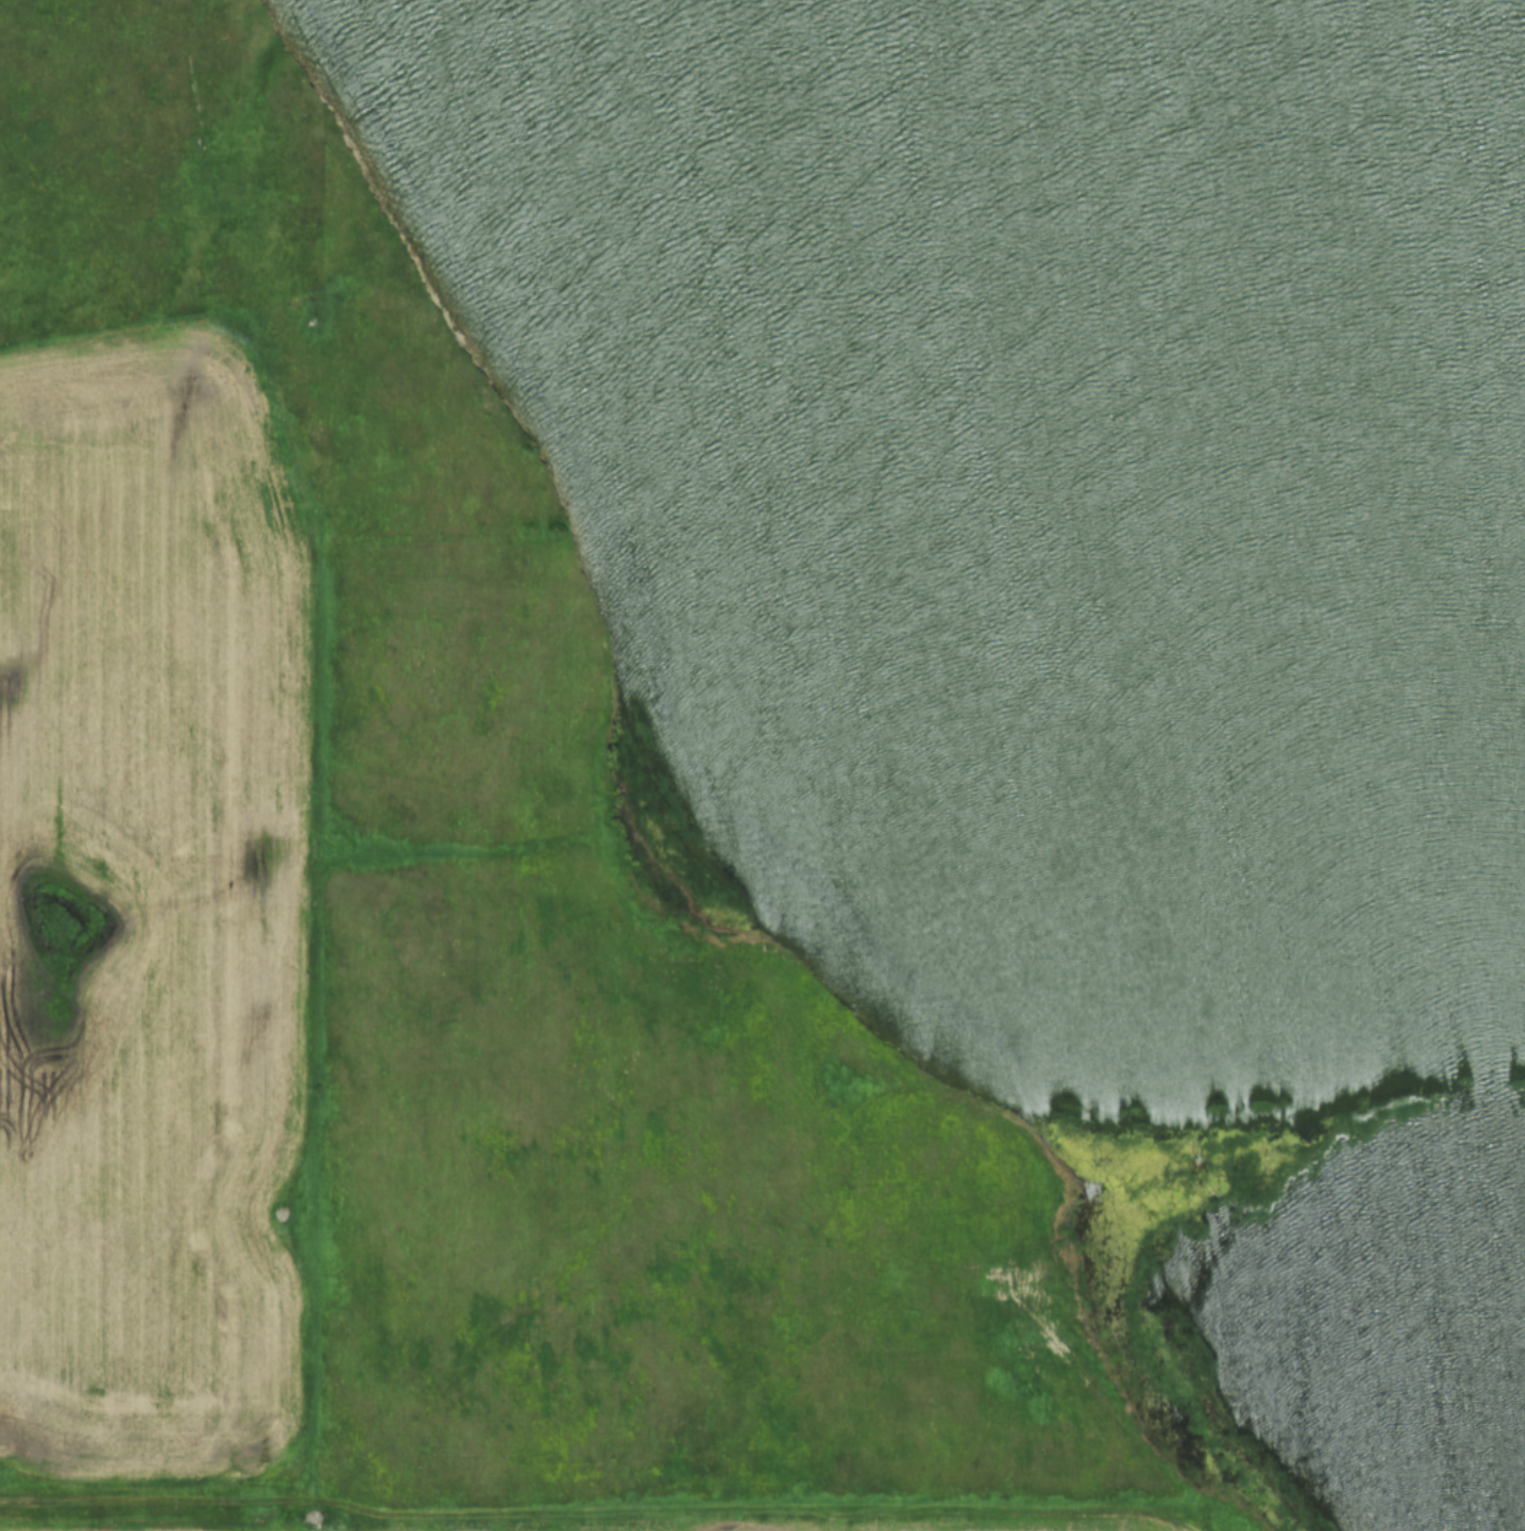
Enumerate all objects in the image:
road: (613, 1516)

